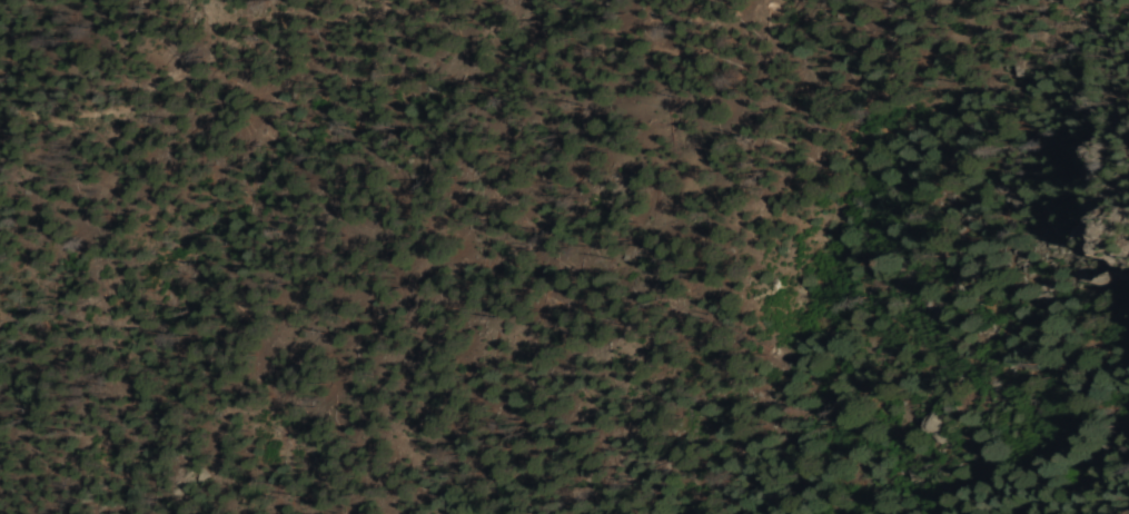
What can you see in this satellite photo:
road: (633, 45)
road: (207, 63)

